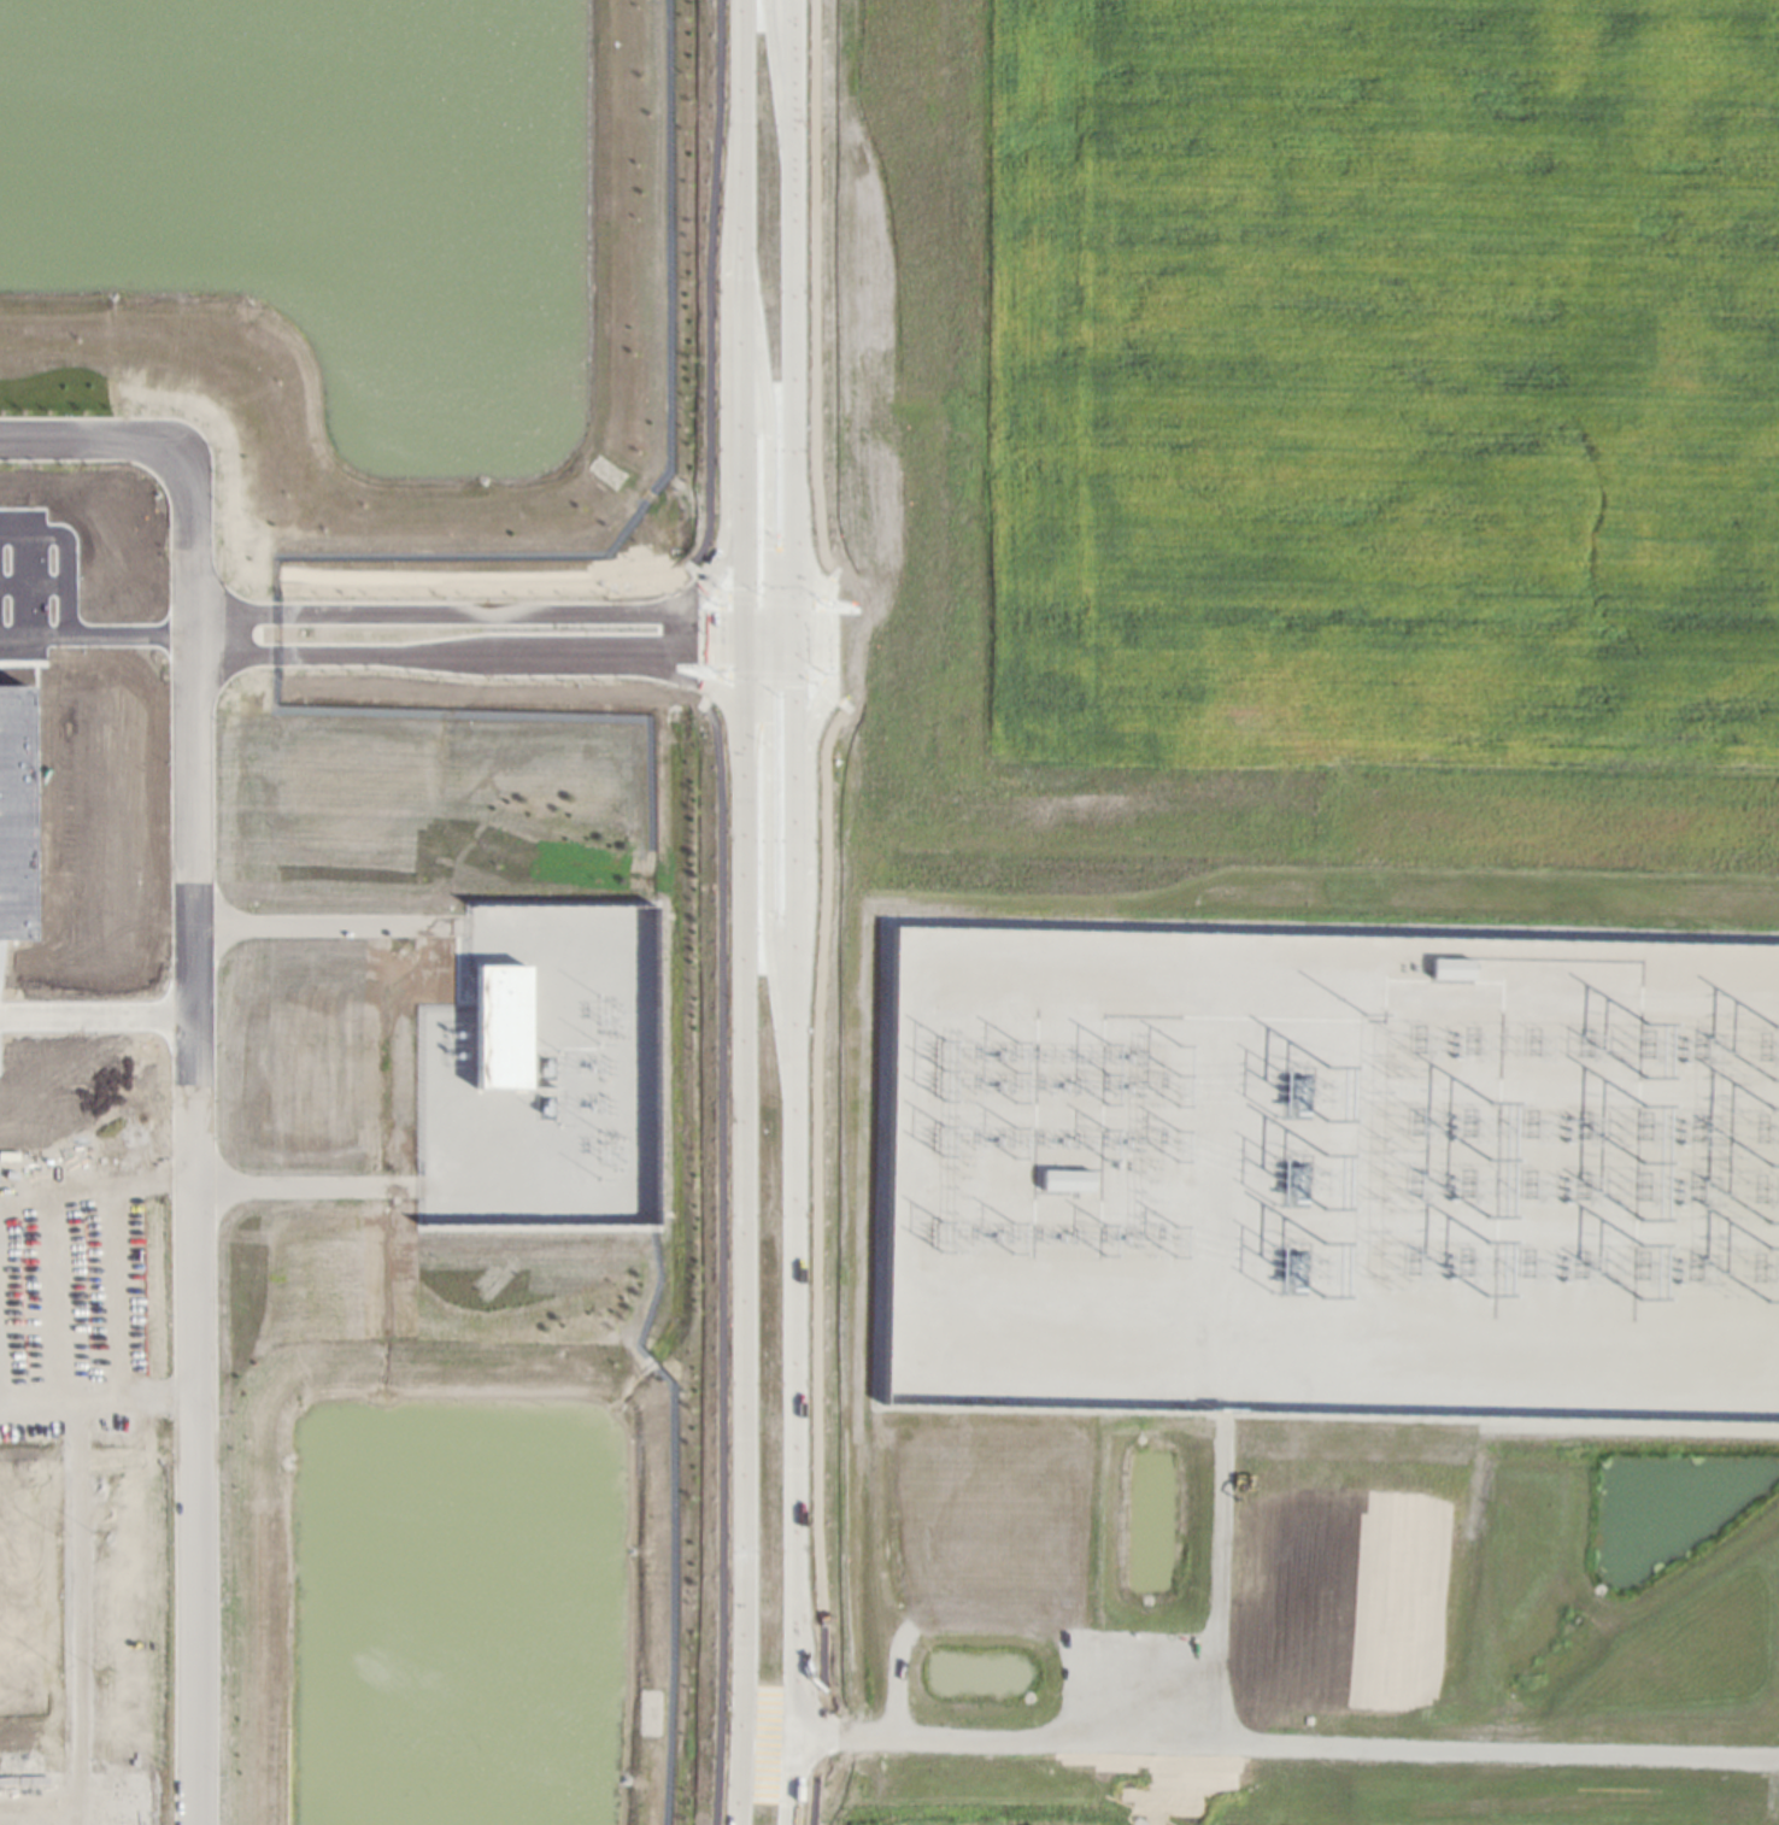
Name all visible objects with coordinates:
road: (777, 78)
road: (714, 288)
road: (814, 294)
road: (742, 311)
road: (791, 311)
road: (726, 407)
road: (767, 462)
traffic signals: (767, 547)
road: (67, 551)
traffic signals: (712, 574)
road: (708, 582)
traffic signals: (744, 587)
road: (826, 591)
road: (770, 598)
road: (466, 612)
road: (757, 622)
road: (780, 622)
road: (721, 634)
road: (95, 635)
road: (758, 636)
road: (745, 638)
road: (791, 638)
road: (818, 639)
road: (775, 641)
road: (468, 652)
traffic signals: (711, 653)
road: (757, 653)
road: (780, 653)
road: (585, 665)
road: (769, 674)
road: (745, 682)
road: (712, 683)
traffic signals: (791, 686)
road: (828, 687)
traffic signals: (768, 722)
building: (12, 811)
road: (768, 864)
road: (1087, 909)
road: (333, 925)
building: (1451, 957)
building: (1449, 968)
road: (96, 1014)
building: (501, 1025)
road: (193, 1045)
power substation: (546, 1072)
road: (575, 1079)
power substation: (1334, 1162)
road: (905, 1164)
building: (1067, 1180)
road: (307, 1186)
road: (793, 1239)
road: (722, 1257)
road: (816, 1258)
road: (744, 1268)
parking lot: (52, 1273)
road: (117, 1290)
road: (55, 1295)
road: (1226, 1380)
road: (27, 1395)
road: (76, 1550)
road: (1221, 1565)
road: (844, 1724)
road: (1055, 1726)
road: (1496, 1739)

